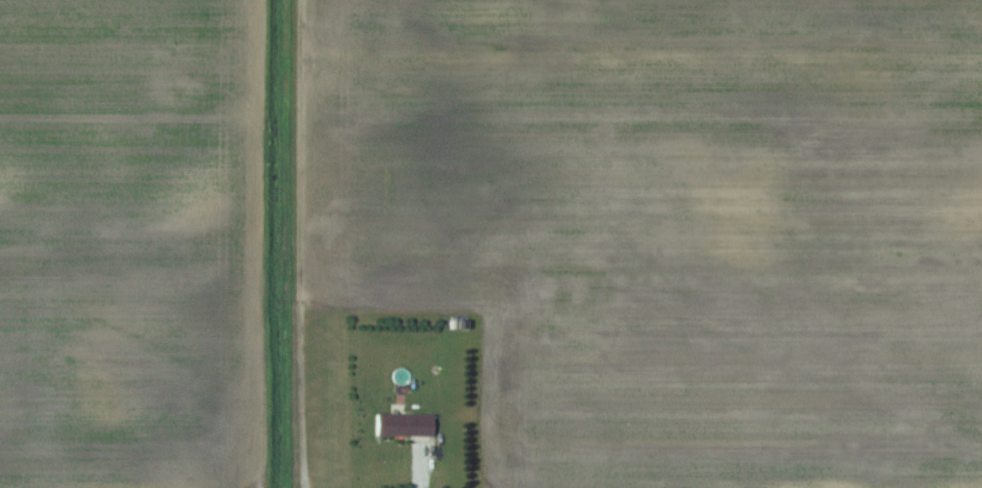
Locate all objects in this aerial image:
building: (405, 424)

